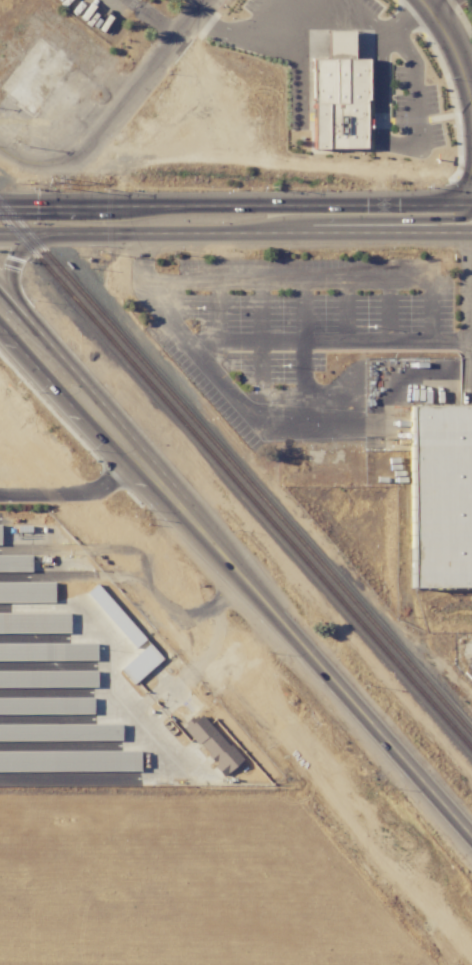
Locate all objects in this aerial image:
road: (207, 1)
road: (363, 18)
road: (153, 19)
road: (246, 42)
road: (453, 45)
road: (150, 73)
building: (38, 78)
road: (471, 91)
building: (350, 94)
road: (414, 137)
road: (44, 161)
road: (236, 206)
road: (375, 221)
road: (235, 235)
road: (145, 247)
road: (2, 269)
road: (319, 280)
road: (345, 310)
road: (216, 311)
road: (389, 311)
road: (470, 320)
road: (44, 333)
road: (313, 340)
road: (450, 342)
road: (261, 351)
road: (304, 351)
road: (30, 366)
road: (278, 423)
railway: (235, 470)
railway: (236, 484)
road: (40, 493)
building: (441, 495)
building: (0, 535)
building: (15, 563)
railway: (237, 582)
building: (27, 592)
building: (115, 616)
road: (270, 620)
building: (34, 622)
building: (48, 651)
building: (140, 664)
building: (48, 678)
road: (119, 690)
building: (46, 705)
building: (60, 732)
building: (211, 744)
building: (69, 761)

